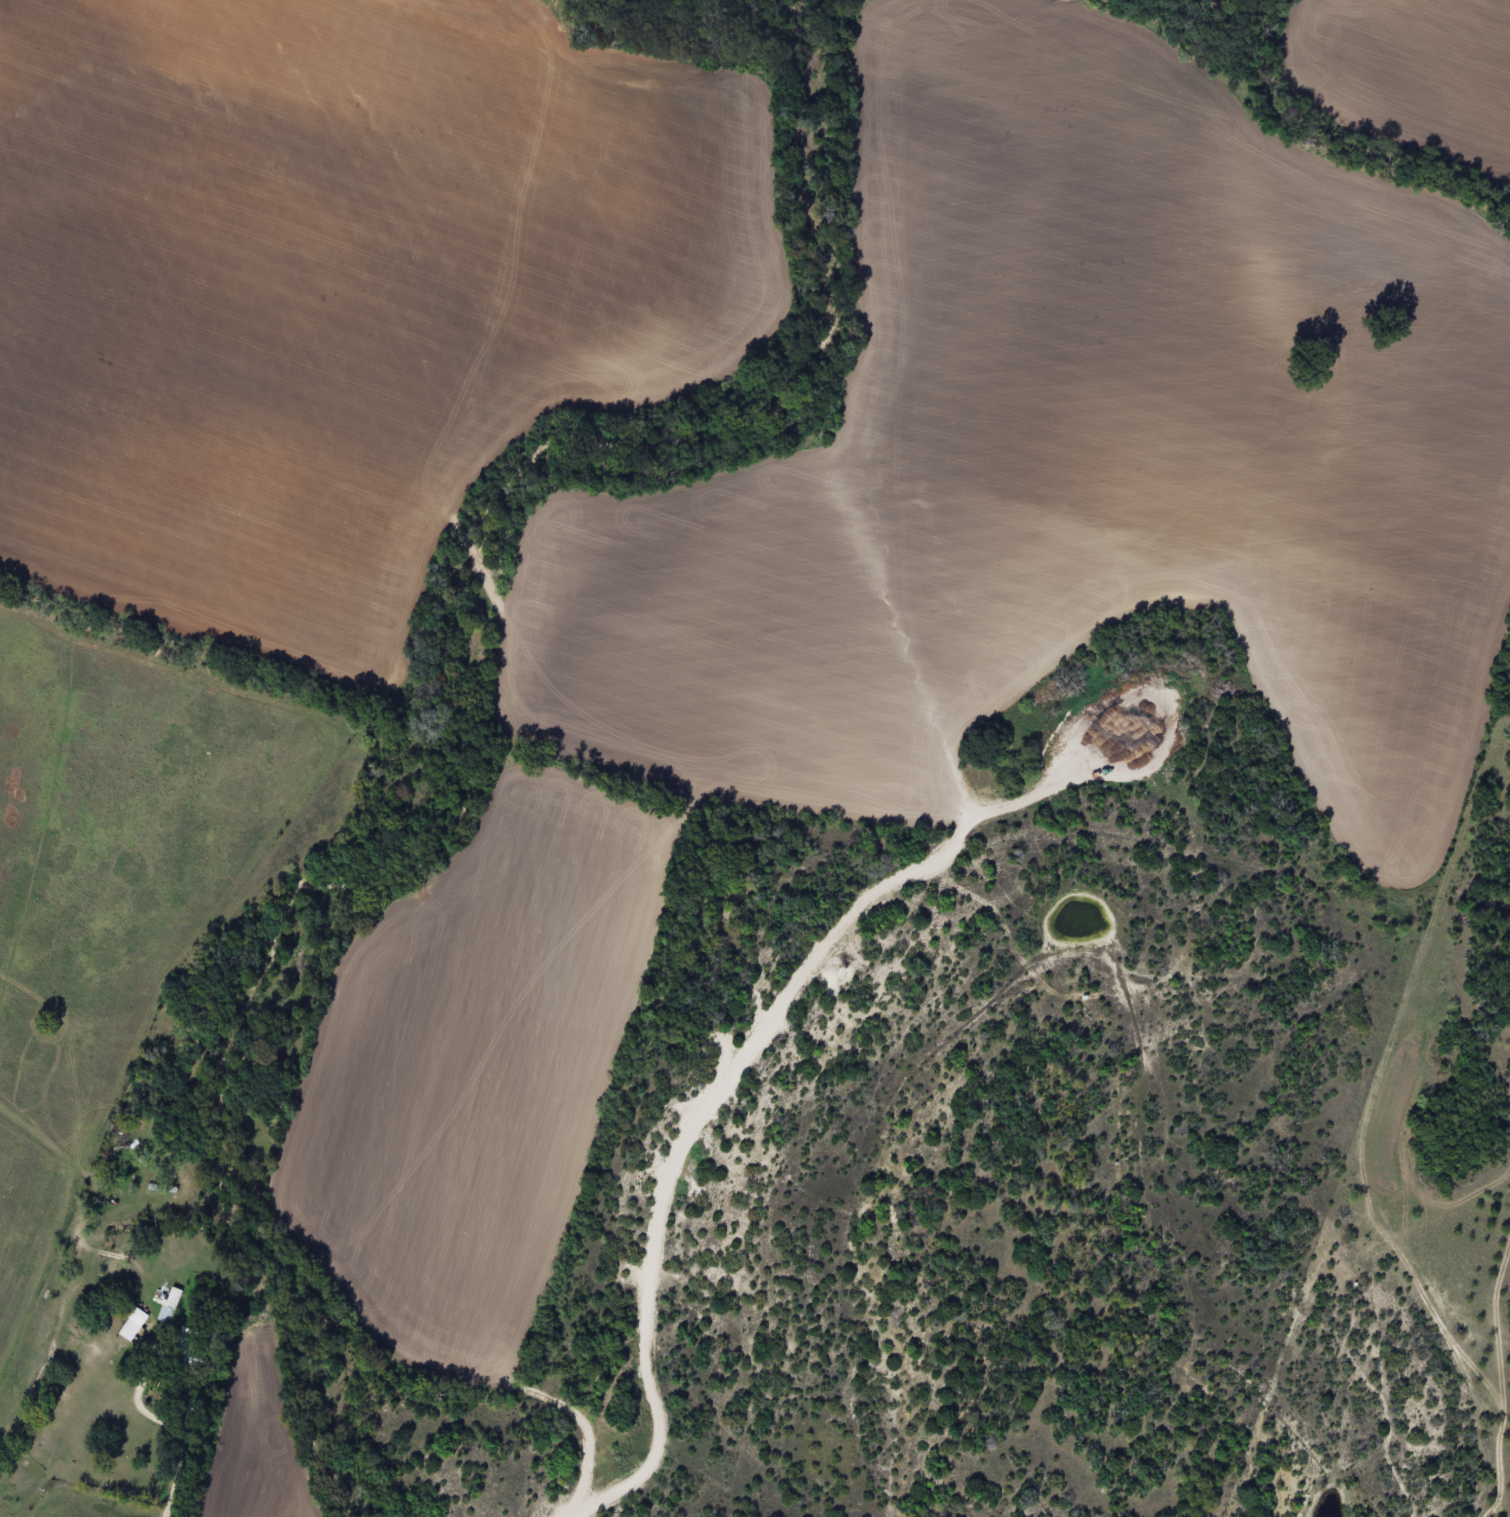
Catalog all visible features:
building: (168, 1303)
building: (129, 1330)
building: (191, 1345)

